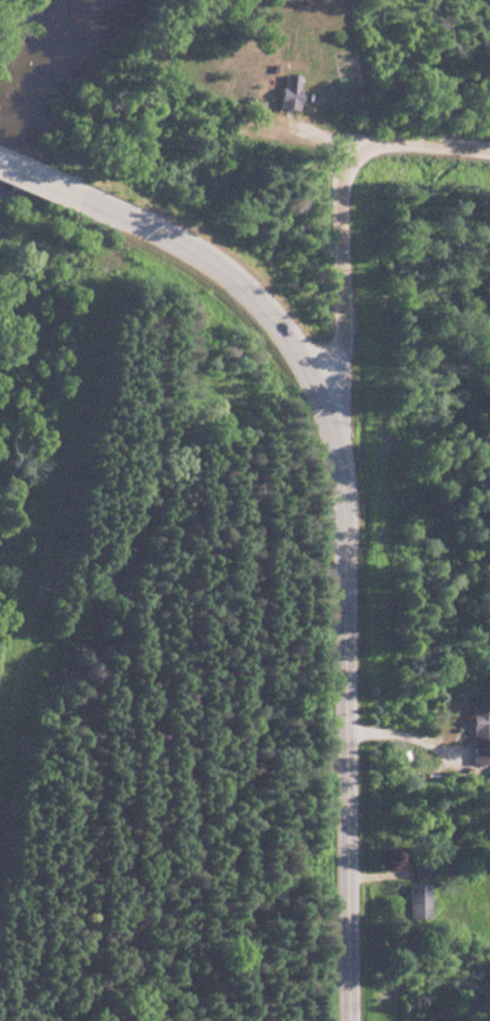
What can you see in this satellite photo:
river: (47, 77)
building: (285, 90)
road: (37, 181)
road: (344, 248)
park: (415, 419)
road: (343, 543)
road: (403, 729)
building: (479, 729)
building: (417, 900)
park: (420, 988)

